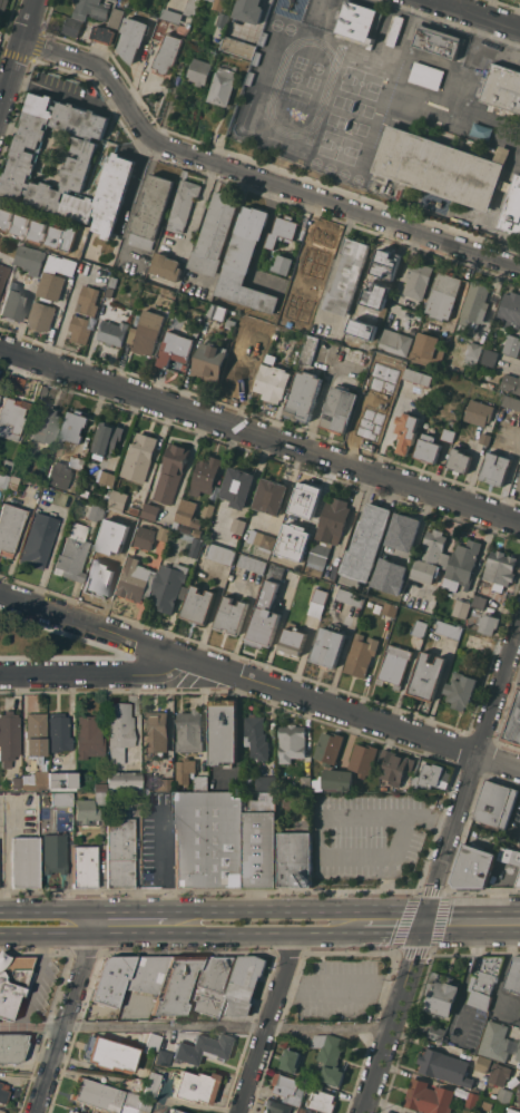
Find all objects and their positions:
building: (216, 0)
building: (3, 6)
building: (192, 7)
road: (320, 8)
building: (251, 10)
building: (173, 14)
road: (475, 14)
building: (85, 16)
building: (117, 18)
building: (225, 19)
building: (359, 21)
building: (161, 29)
building: (395, 30)
building: (104, 35)
building: (133, 38)
building: (438, 41)
building: (241, 47)
building: (169, 52)
road: (18, 60)
building: (185, 66)
building: (200, 71)
building: (426, 75)
road: (463, 82)
building: (224, 86)
building: (503, 89)
road: (2, 104)
building: (67, 165)
building: (441, 167)
road: (136, 173)
road: (254, 178)
building: (506, 187)
building: (181, 204)
building: (513, 208)
building: (151, 212)
building: (6, 217)
building: (21, 224)
building: (39, 230)
building: (282, 230)
building: (215, 233)
building: (57, 235)
building: (31, 258)
building: (245, 262)
building: (283, 264)
building: (166, 266)
building: (379, 267)
building: (2, 275)
building: (347, 275)
building: (55, 277)
building: (418, 280)
building: (114, 281)
building: (110, 291)
building: (443, 294)
building: (88, 300)
building: (384, 300)
building: (305, 301)
building: (12, 305)
building: (474, 305)
building: (510, 310)
building: (217, 312)
building: (41, 316)
road: (65, 319)
building: (230, 323)
building: (79, 330)
building: (112, 332)
building: (146, 332)
building: (395, 342)
building: (512, 344)
building: (424, 348)
building: (175, 349)
building: (308, 349)
building: (473, 353)
building: (259, 355)
building: (490, 357)
road: (511, 360)
building: (209, 361)
building: (237, 373)
building: (418, 377)
building: (10, 379)
building: (273, 382)
building: (511, 383)
building: (41, 392)
building: (303, 396)
road: (321, 397)
building: (511, 401)
building: (339, 409)
building: (479, 412)
building: (11, 418)
building: (380, 421)
building: (46, 426)
building: (75, 426)
building: (406, 431)
building: (449, 435)
road: (259, 436)
building: (107, 439)
building: (485, 439)
building: (428, 448)
building: (138, 457)
building: (459, 460)
building: (77, 462)
building: (4, 466)
building: (496, 468)
building: (171, 473)
building: (57, 476)
building: (206, 476)
building: (105, 477)
building: (13, 480)
building: (2, 481)
building: (100, 486)
building: (519, 486)
building: (238, 487)
building: (271, 496)
building: (118, 500)
building: (303, 505)
building: (208, 509)
building: (89, 510)
building: (135, 510)
building: (150, 511)
building: (188, 514)
building: (111, 517)
building: (126, 520)
building: (237, 525)
building: (111, 526)
building: (9, 528)
building: (196, 531)
building: (164, 534)
building: (327, 534)
building: (144, 539)
building: (261, 539)
building: (401, 539)
building: (38, 541)
building: (366, 541)
building: (196, 547)
building: (275, 547)
building: (71, 554)
building: (220, 554)
building: (291, 556)
building: (431, 557)
building: (463, 562)
building: (252, 563)
building: (102, 565)
building: (500, 569)
building: (387, 575)
building: (136, 580)
building: (169, 586)
building: (376, 588)
building: (350, 597)
building: (317, 602)
building: (479, 602)
building: (198, 605)
building: (269, 605)
building: (377, 608)
building: (390, 608)
building: (461, 608)
building: (230, 616)
building: (489, 624)
building: (420, 627)
building: (449, 628)
building: (293, 641)
building: (328, 646)
building: (361, 655)
building: (394, 665)
road: (97, 676)
building: (426, 676)
road: (258, 684)
building: (461, 690)
building: (513, 722)
building: (119, 731)
building: (189, 731)
building: (223, 731)
building: (155, 732)
building: (58, 733)
building: (35, 734)
building: (8, 738)
building: (88, 738)
building: (255, 738)
building: (292, 742)
building: (328, 746)
building: (363, 758)
building: (395, 765)
building: (185, 770)
building: (432, 775)
building: (333, 779)
building: (35, 781)
building: (60, 781)
building: (122, 781)
building: (98, 782)
building: (202, 782)
building: (266, 782)
building: (305, 782)
building: (14, 783)
building: (168, 783)
building: (144, 785)
building: (383, 787)
building: (99, 798)
building: (60, 800)
building: (496, 804)
building: (87, 811)
road: (321, 824)
building: (208, 839)
building: (258, 839)
building: (498, 848)
building: (119, 849)
building: (506, 852)
building: (53, 853)
building: (293, 858)
road: (7, 861)
building: (23, 862)
road: (164, 862)
building: (84, 867)
building: (473, 867)
road: (440, 872)
building: (518, 882)
road: (295, 910)
road: (51, 911)
road: (135, 911)
road: (471, 922)
traffic signals: (423, 924)
road: (180, 933)
road: (392, 933)
building: (148, 974)
building: (513, 975)
building: (484, 979)
road: (36, 980)
building: (112, 980)
building: (13, 983)
building: (177, 985)
building: (209, 985)
building: (244, 985)
road: (342, 987)
building: (441, 994)
road: (70, 1012)
road: (271, 1022)
road: (32, 1026)
road: (167, 1026)
road: (328, 1029)
building: (436, 1033)
building: (153, 1041)
building: (499, 1042)
building: (11, 1047)
building: (202, 1048)
building: (110, 1055)
road: (41, 1056)
building: (330, 1056)
building: (163, 1058)
building: (291, 1060)
building: (482, 1064)
building: (444, 1067)
building: (499, 1075)
building: (151, 1085)
building: (313, 1085)
building: (194, 1087)
building: (288, 1088)
building: (519, 1092)
building: (3, 1093)
building: (97, 1095)
building: (504, 1095)
building: (428, 1096)
building: (322, 1101)
building: (472, 1101)
building: (519, 1104)
building: (143, 1106)
building: (275, 1106)
building: (127, 1110)
building: (174, 1111)
building: (512, 1111)
building: (1, 1112)
building: (69, 1112)
building: (72, 1112)
building: (307, 1112)
building: (308, 1112)
building: (400, 1112)

